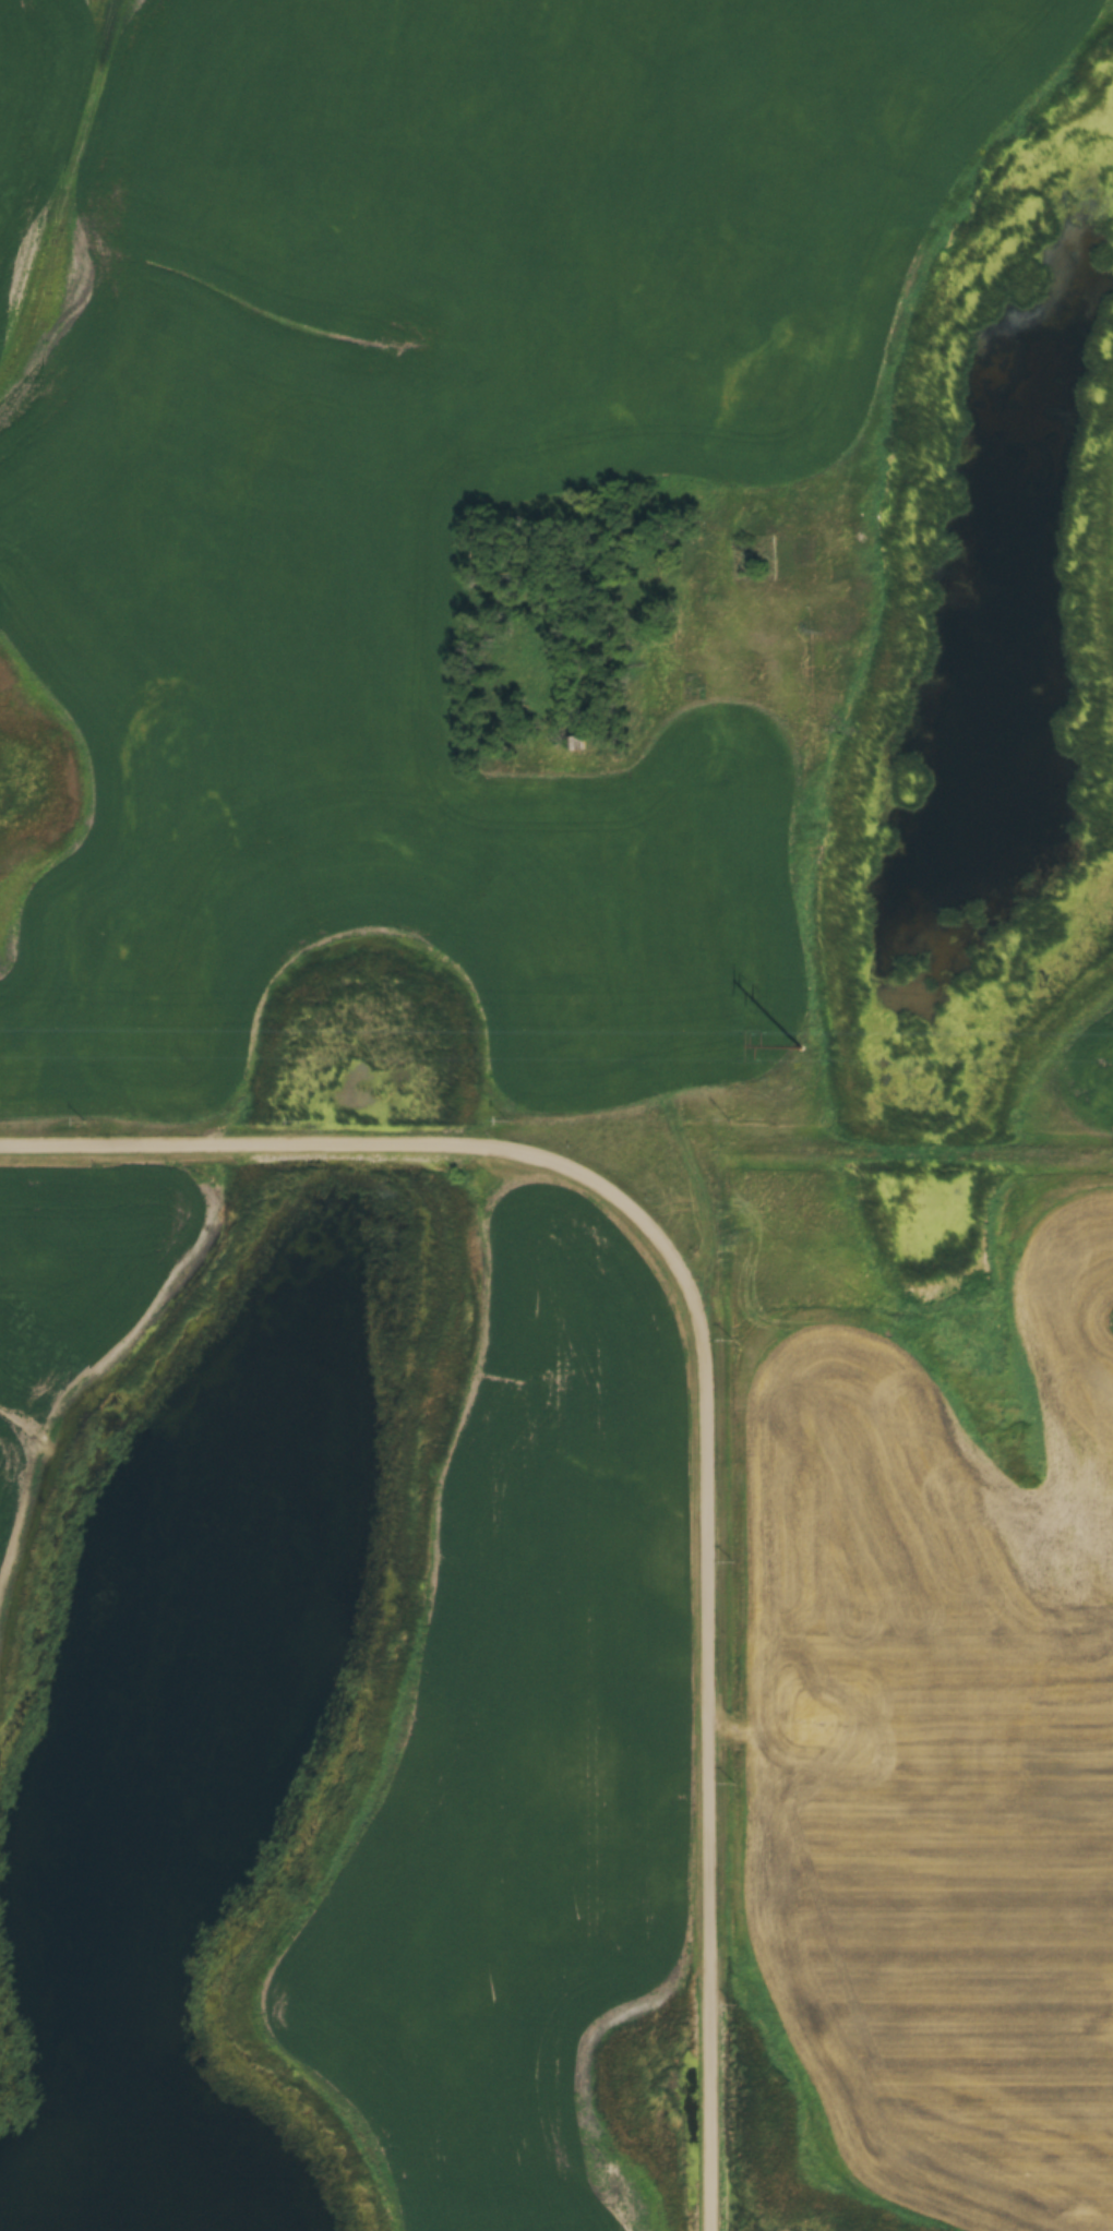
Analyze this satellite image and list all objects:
building: (577, 743)
power tower: (801, 1030)
road: (702, 1386)

